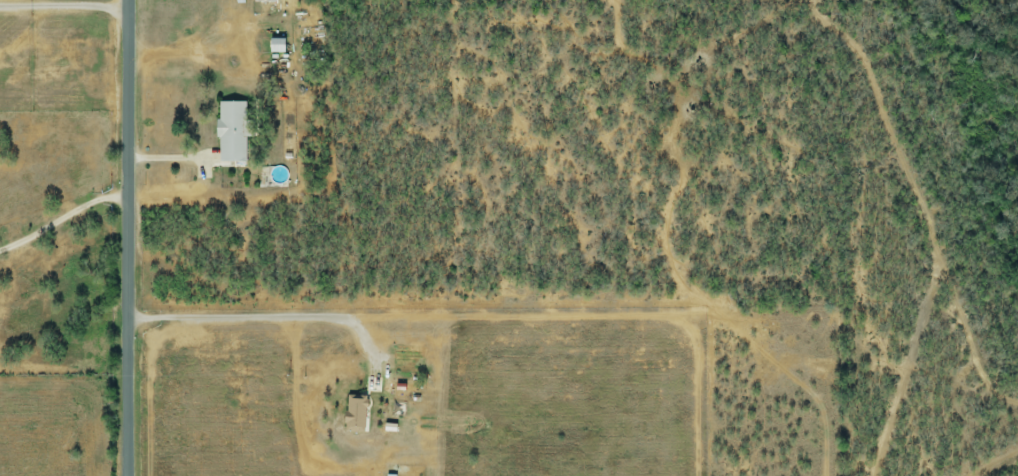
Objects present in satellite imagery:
road: (65, 8)
building: (230, 132)
road: (171, 159)
road: (64, 218)
road: (132, 237)
road: (266, 318)

